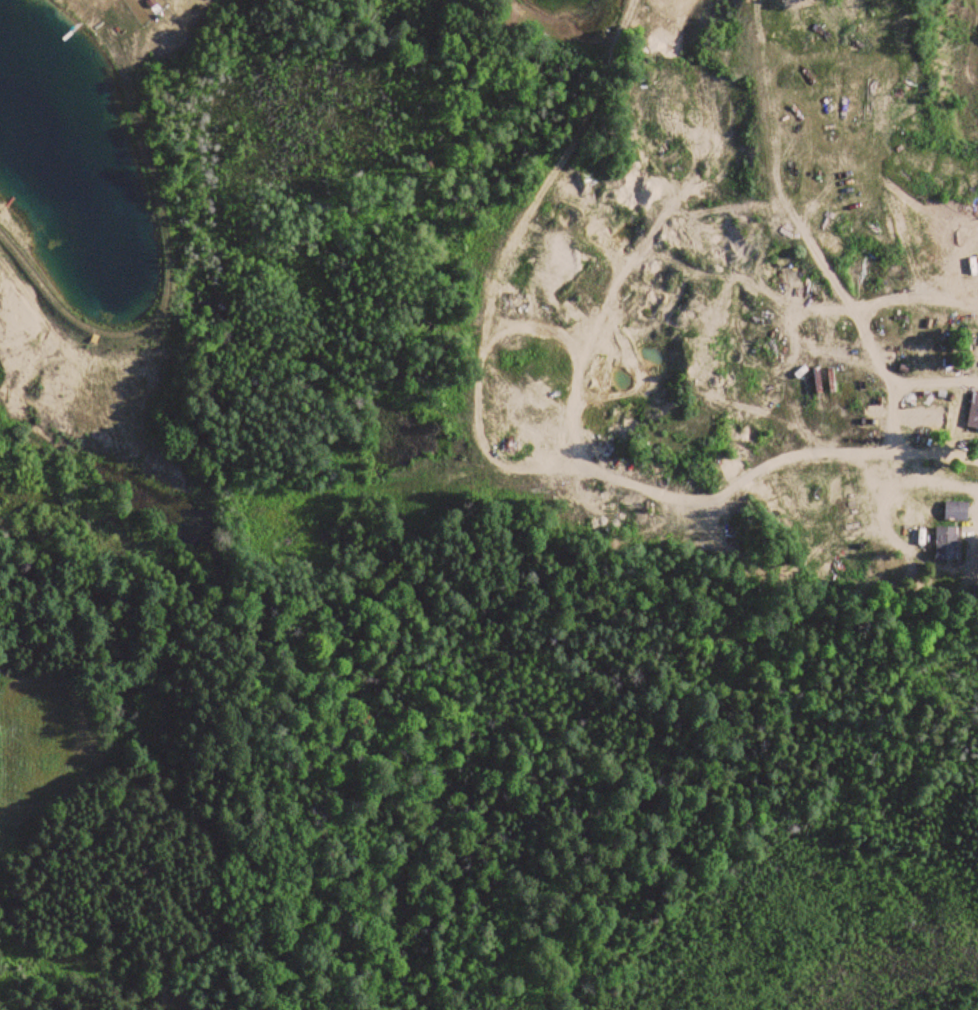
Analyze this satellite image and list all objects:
building: (973, 412)
building: (955, 510)
building: (945, 542)

